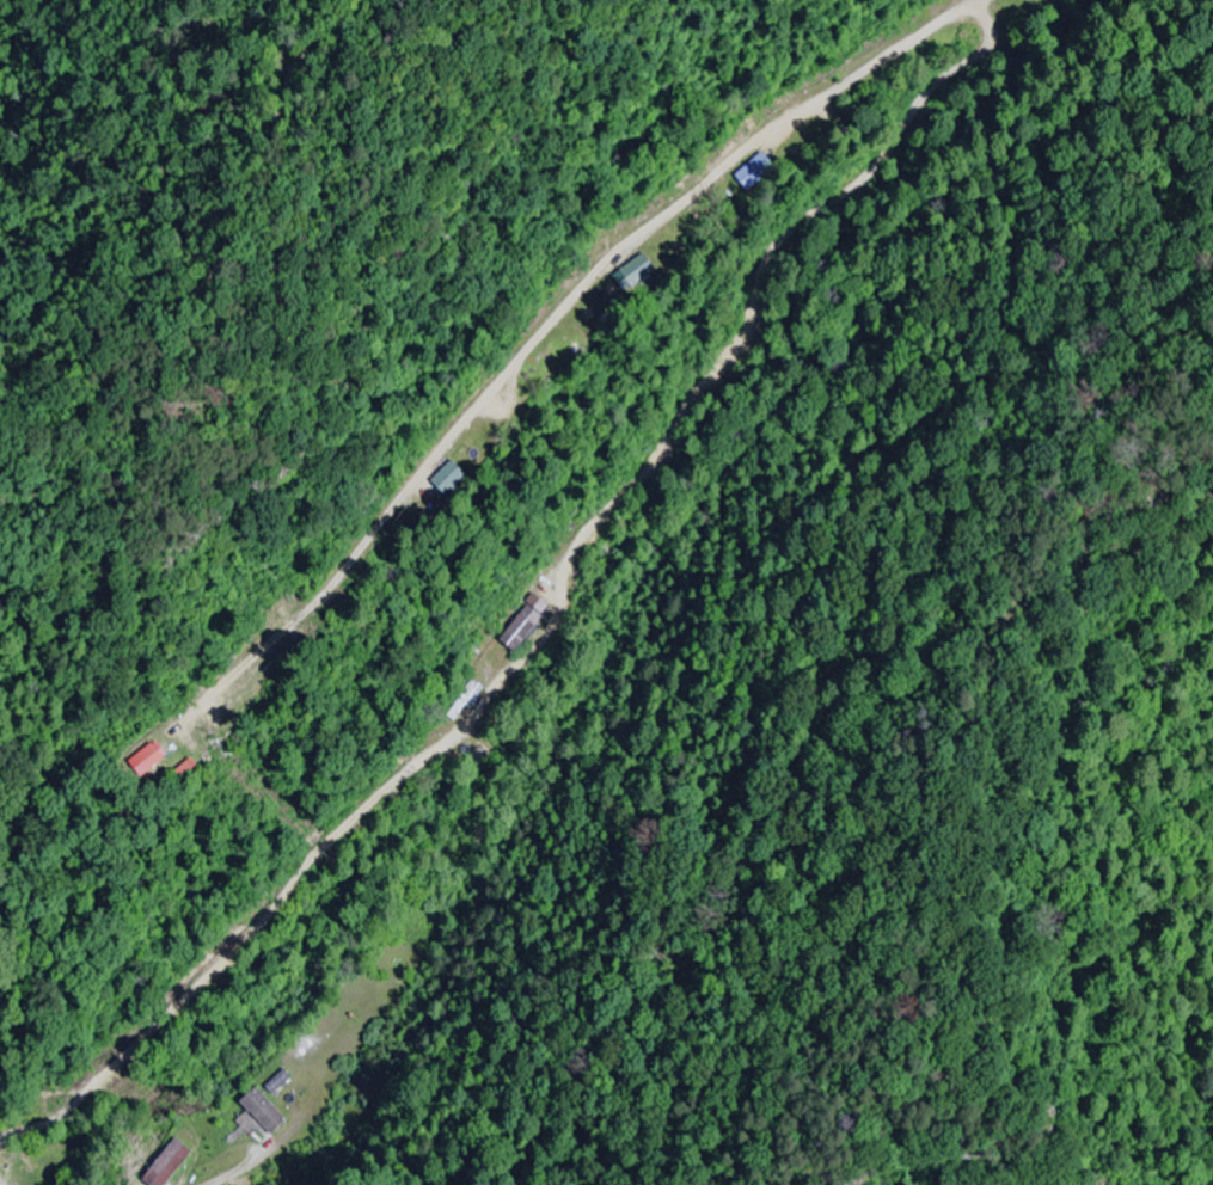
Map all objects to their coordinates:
building: (754, 172)
building: (637, 268)
building: (448, 477)
building: (521, 627)
building: (465, 700)
building: (209, 713)
building: (146, 759)
building: (280, 1082)
building: (262, 1111)
building: (169, 1163)
building: (23, 1172)

